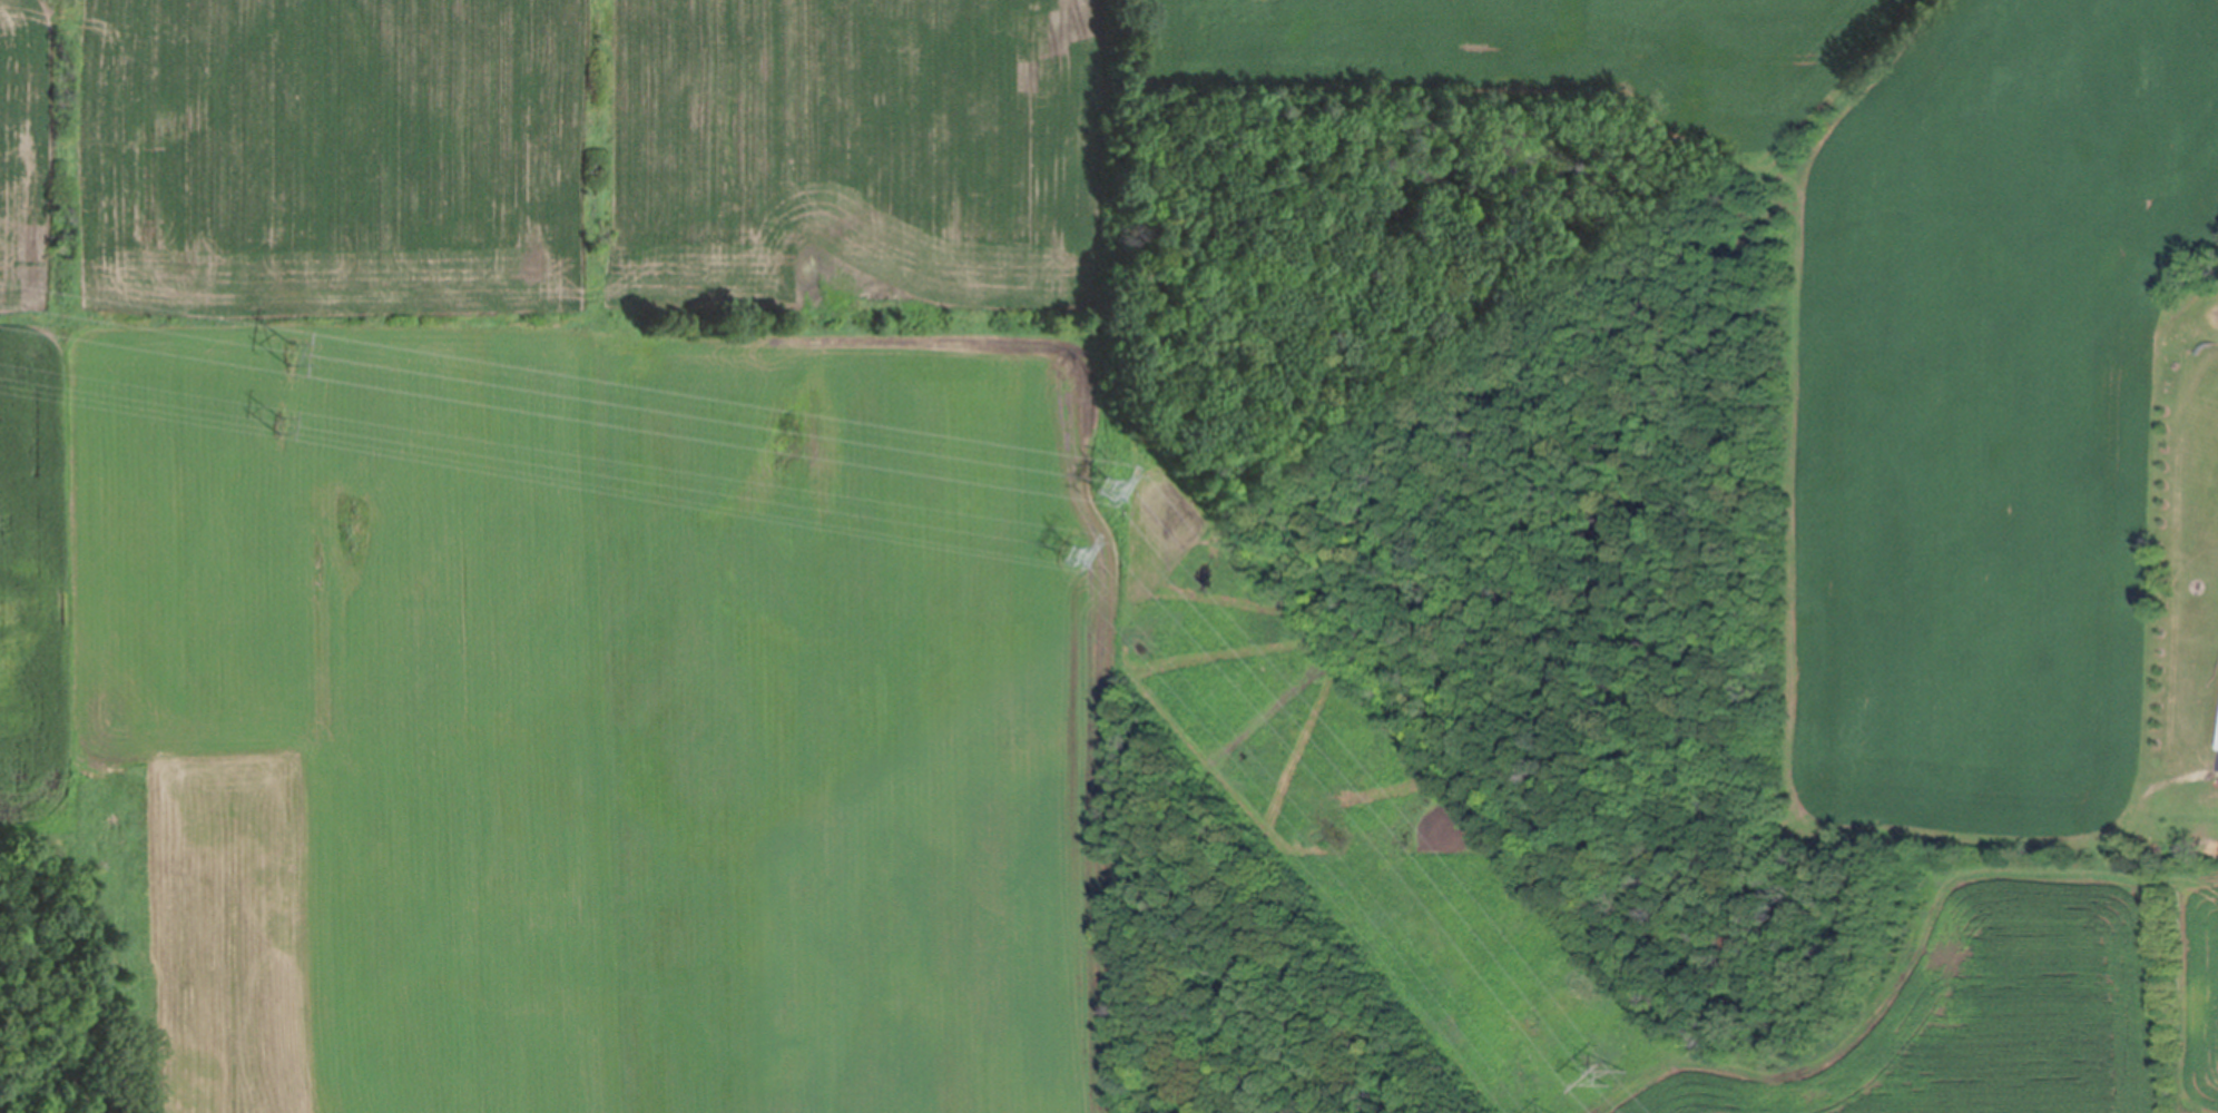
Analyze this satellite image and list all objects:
power tower: (287, 355)
power tower: (276, 424)
power tower: (1107, 490)
power tower: (1080, 556)
power tower: (1618, 1076)

